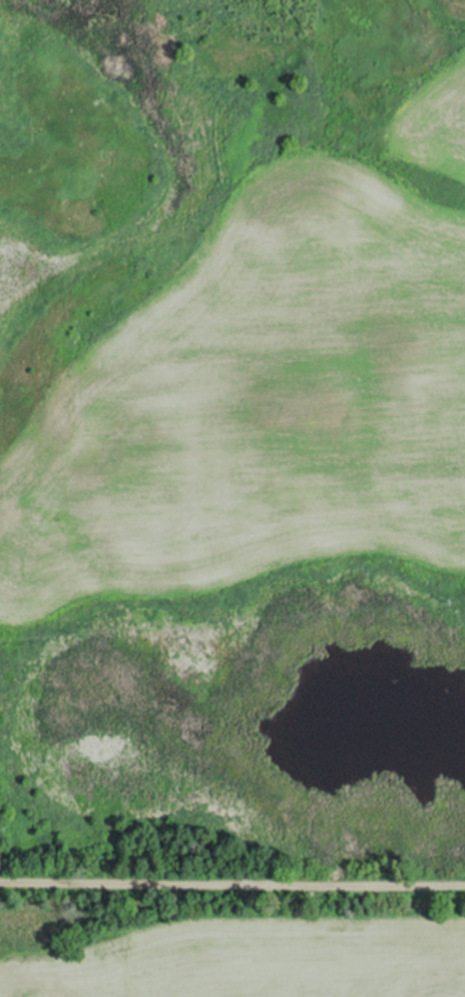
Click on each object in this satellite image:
road: (232, 880)

